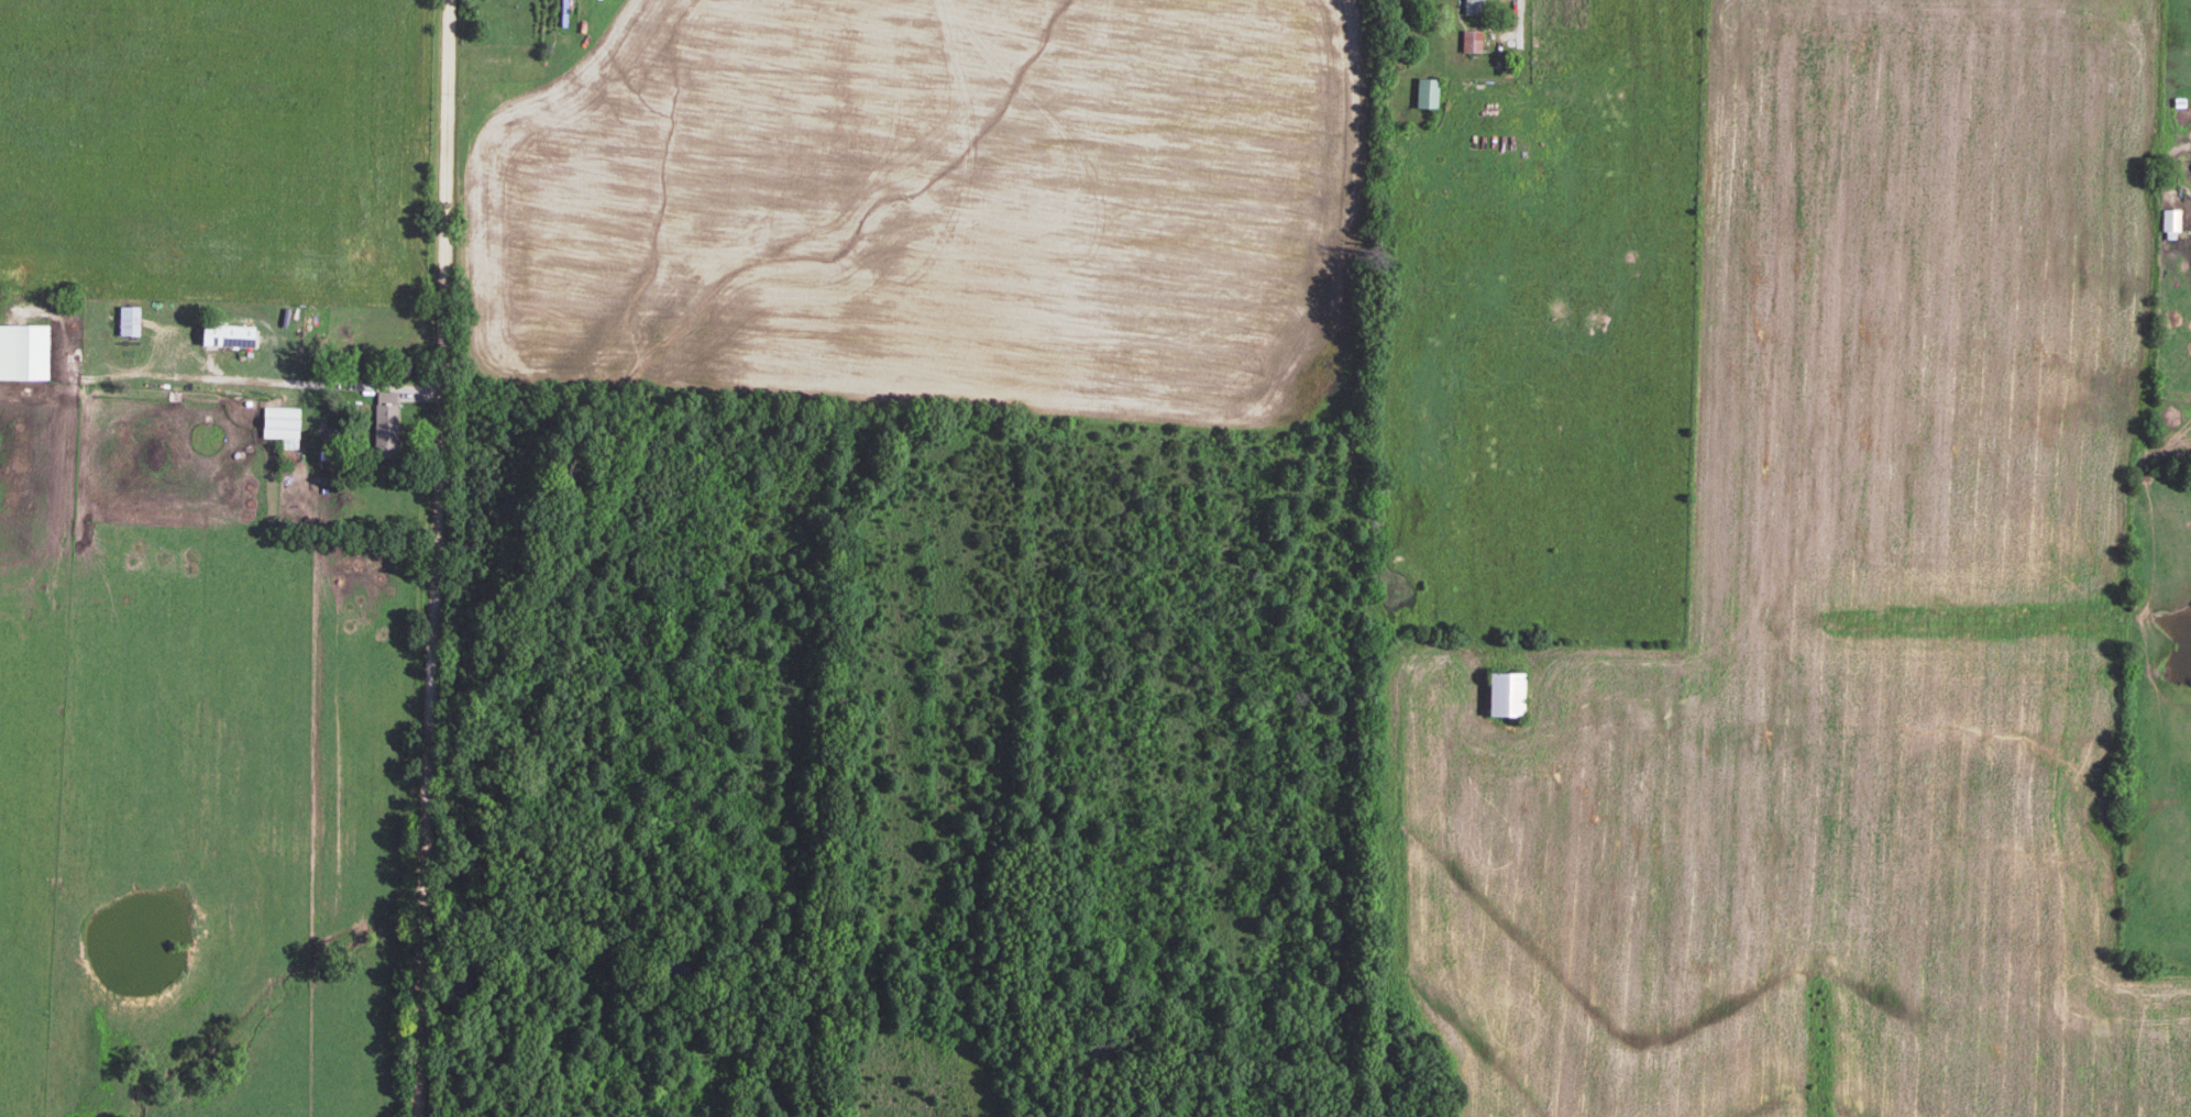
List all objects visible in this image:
building: (1474, 5)
building: (1473, 38)
road: (1522, 55)
building: (1428, 90)
building: (2171, 217)
building: (129, 317)
building: (227, 332)
building: (23, 349)
road: (239, 386)
building: (279, 419)
building: (385, 421)
road: (436, 557)
building: (1506, 690)

